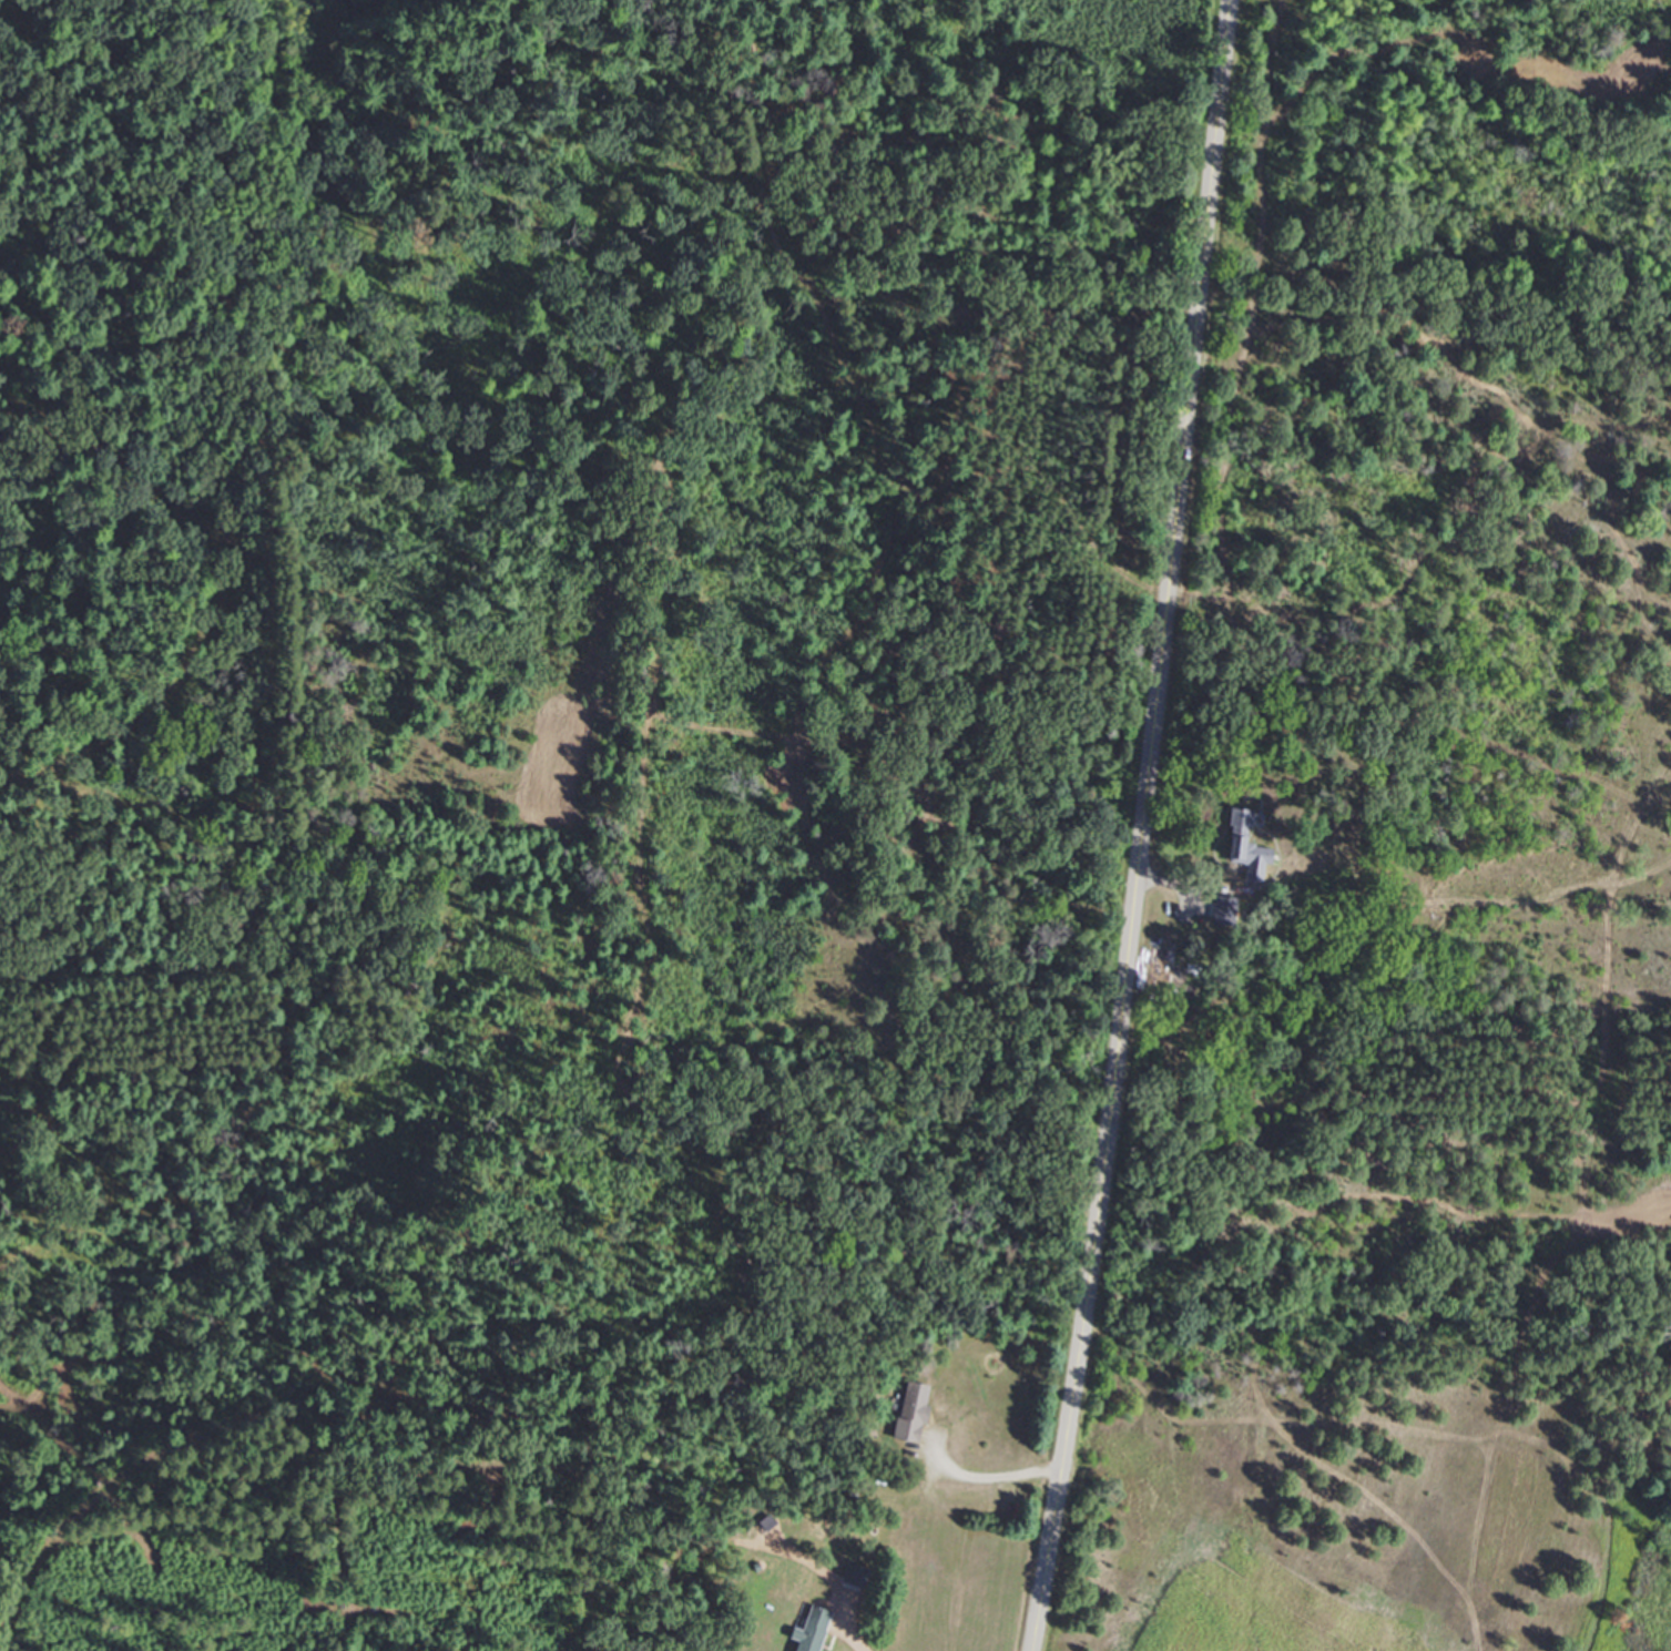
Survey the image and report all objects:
building: (1234, 817)
road: (1165, 828)
building: (1254, 862)
building: (1222, 910)
building: (1159, 968)
building: (913, 1410)
road: (989, 1484)
building: (855, 1574)
building: (812, 1630)
road: (846, 1640)

